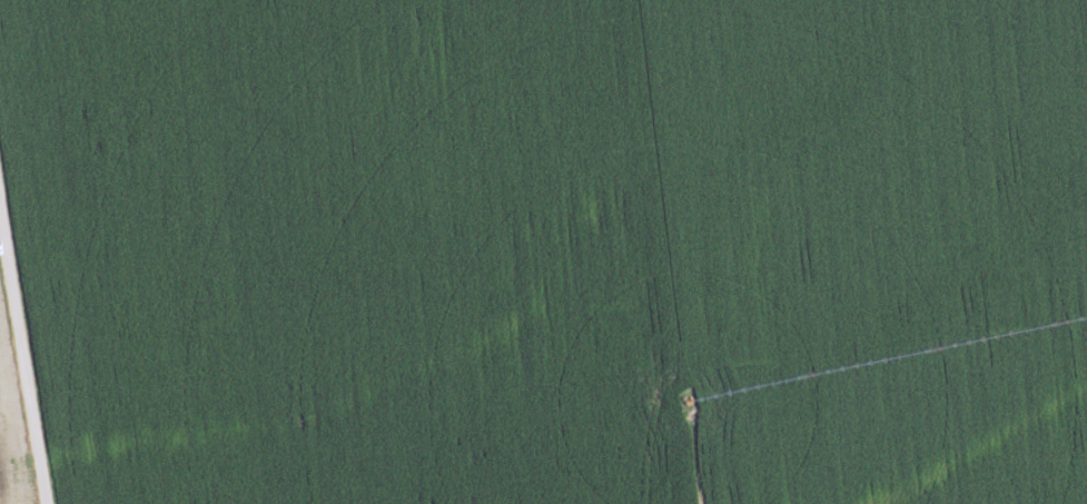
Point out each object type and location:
road: (20, 358)

